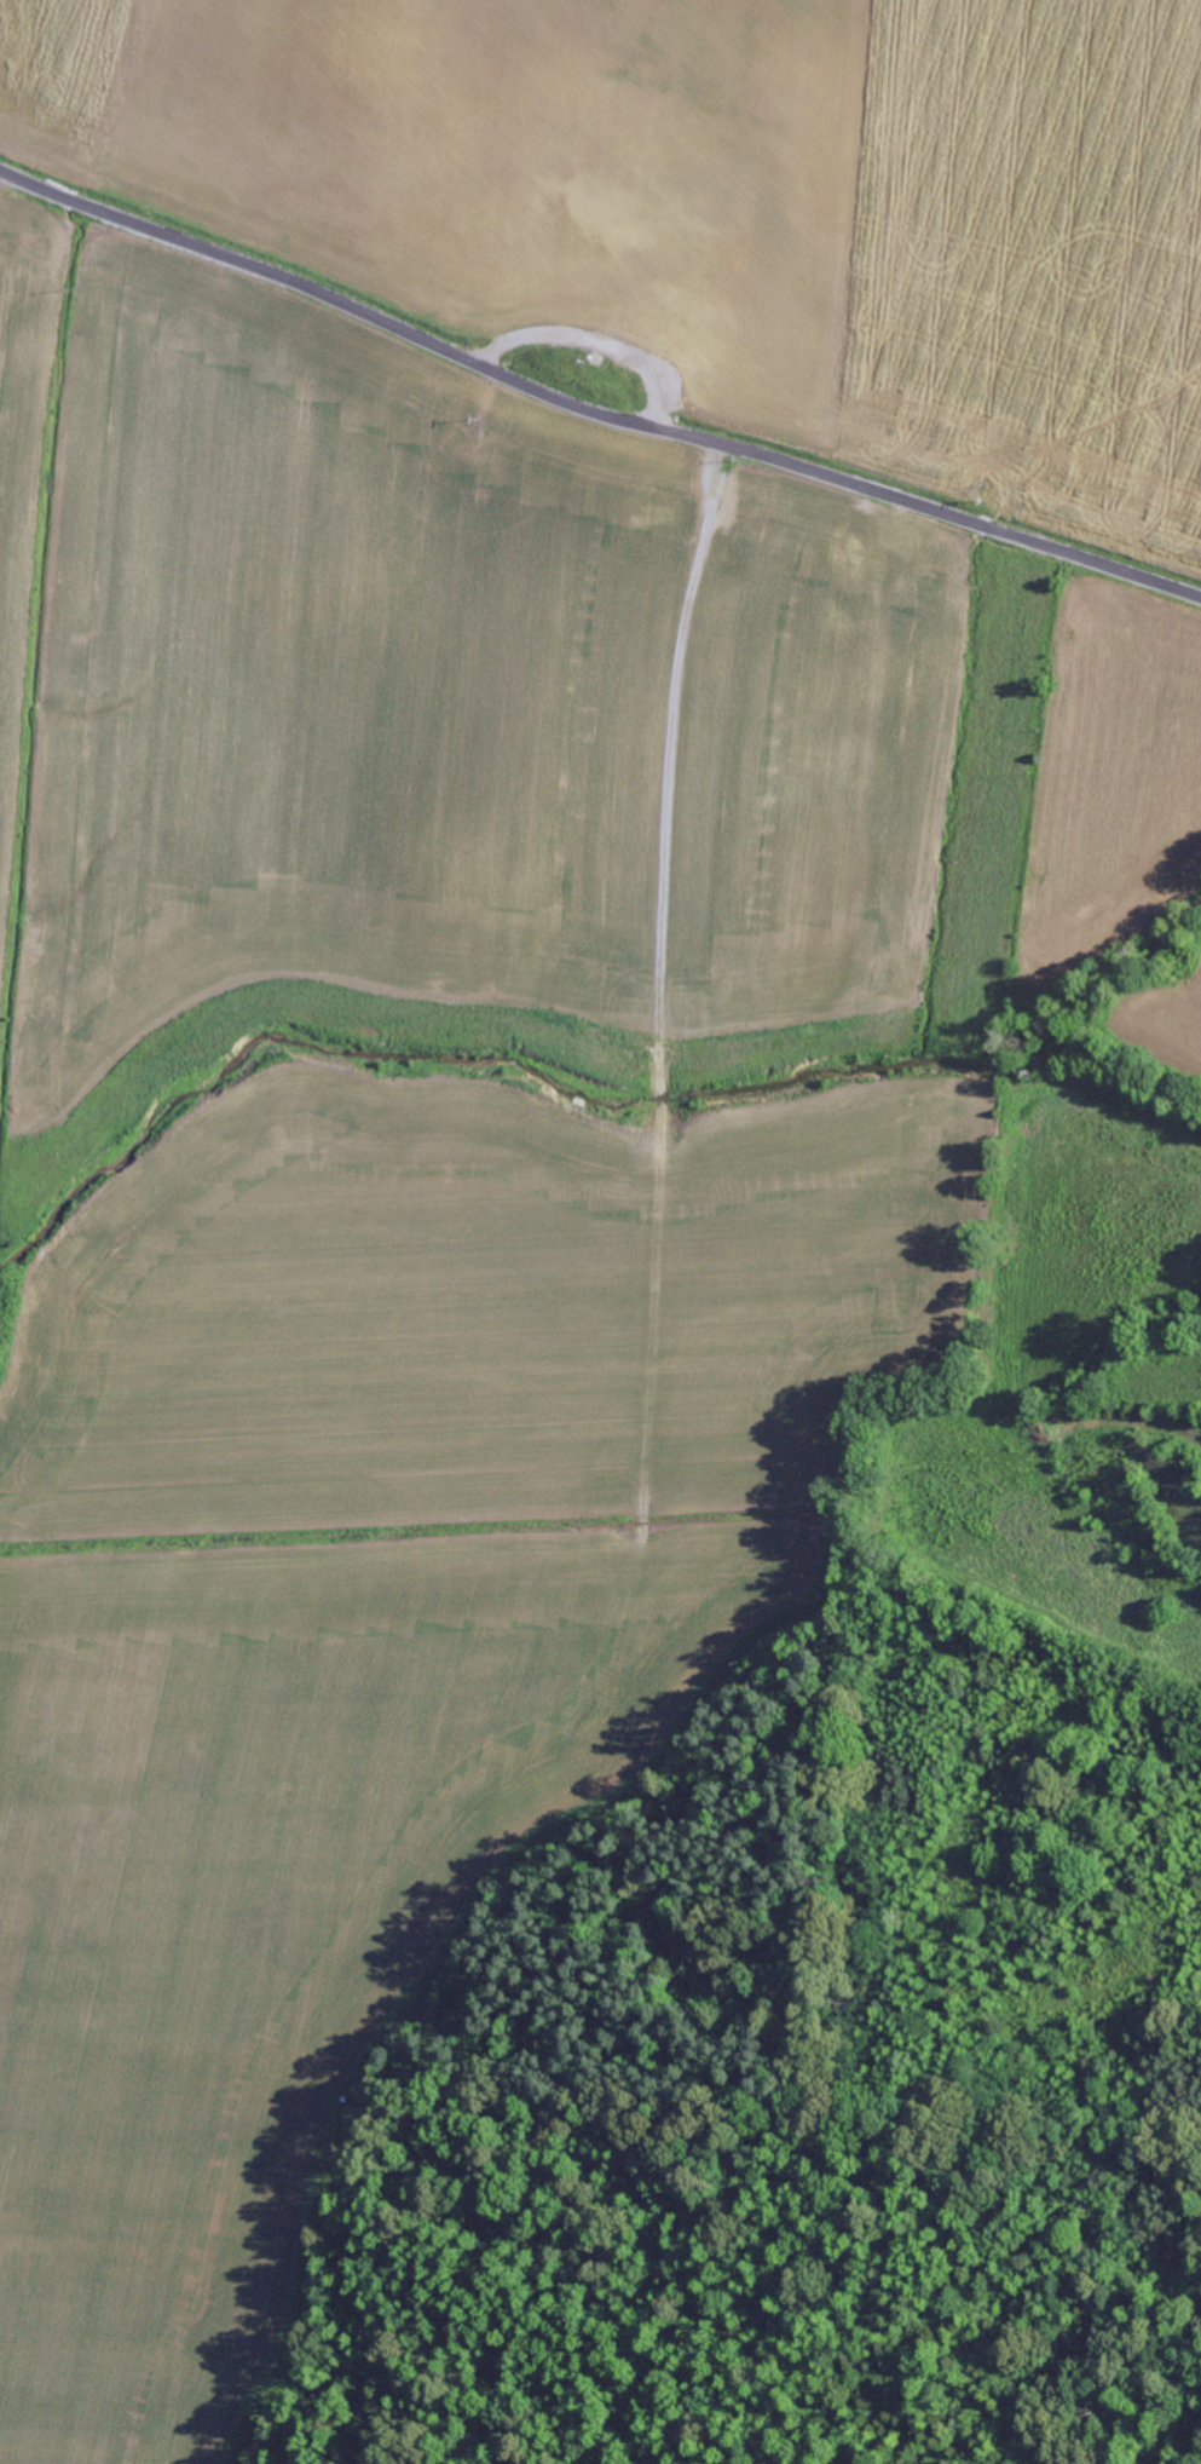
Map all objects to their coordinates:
road: (590, 409)

